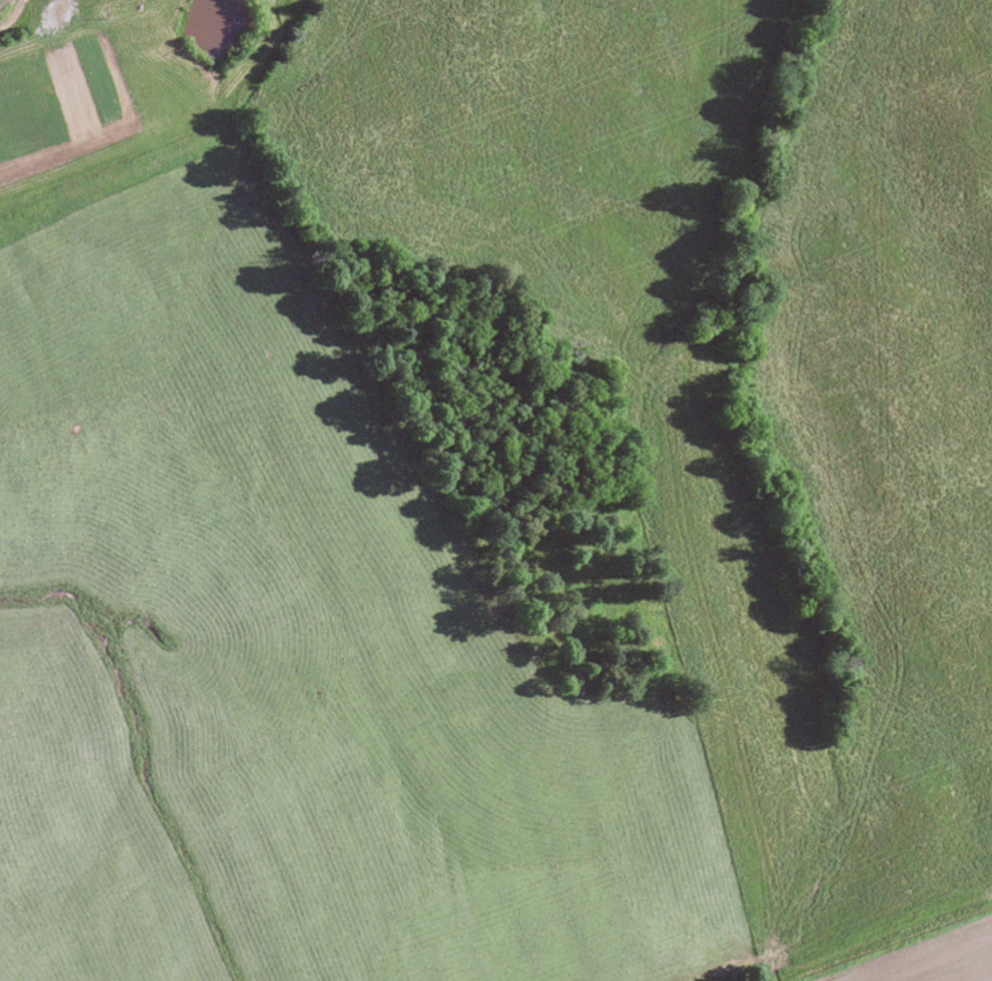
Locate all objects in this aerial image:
road: (888, 938)

